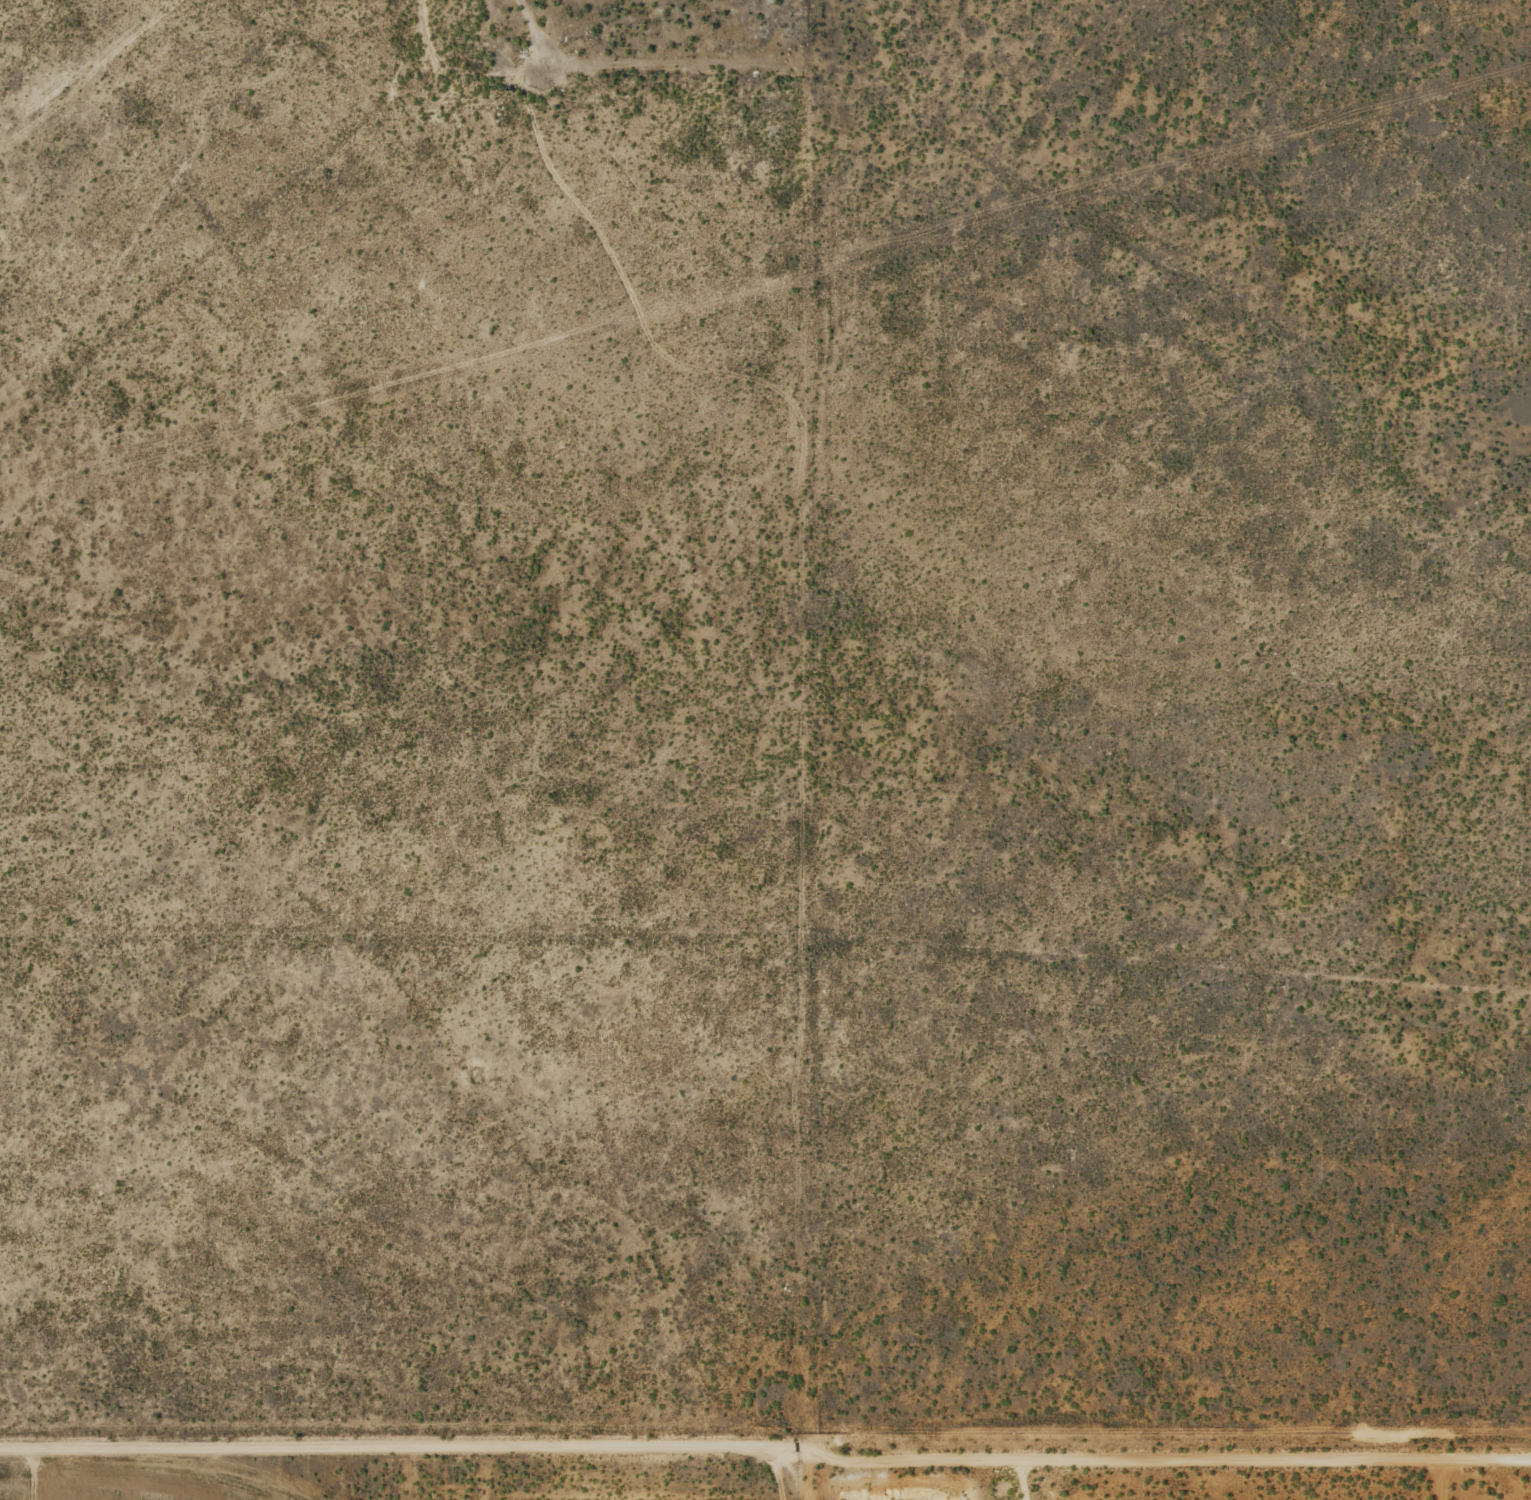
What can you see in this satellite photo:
road: (767, 1438)

